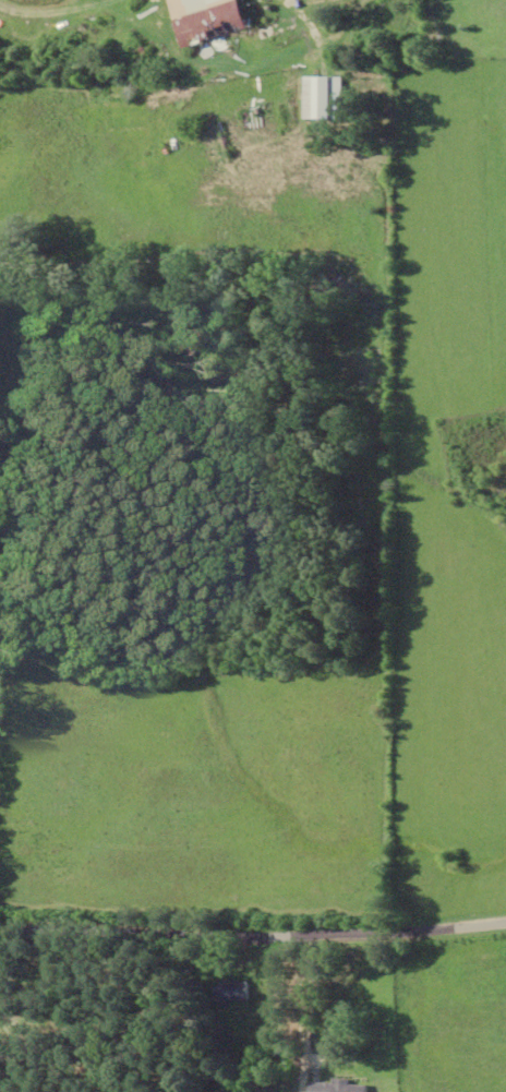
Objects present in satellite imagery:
building: (216, 19)
building: (327, 96)
road: (253, 941)
building: (236, 991)
building: (341, 1087)

